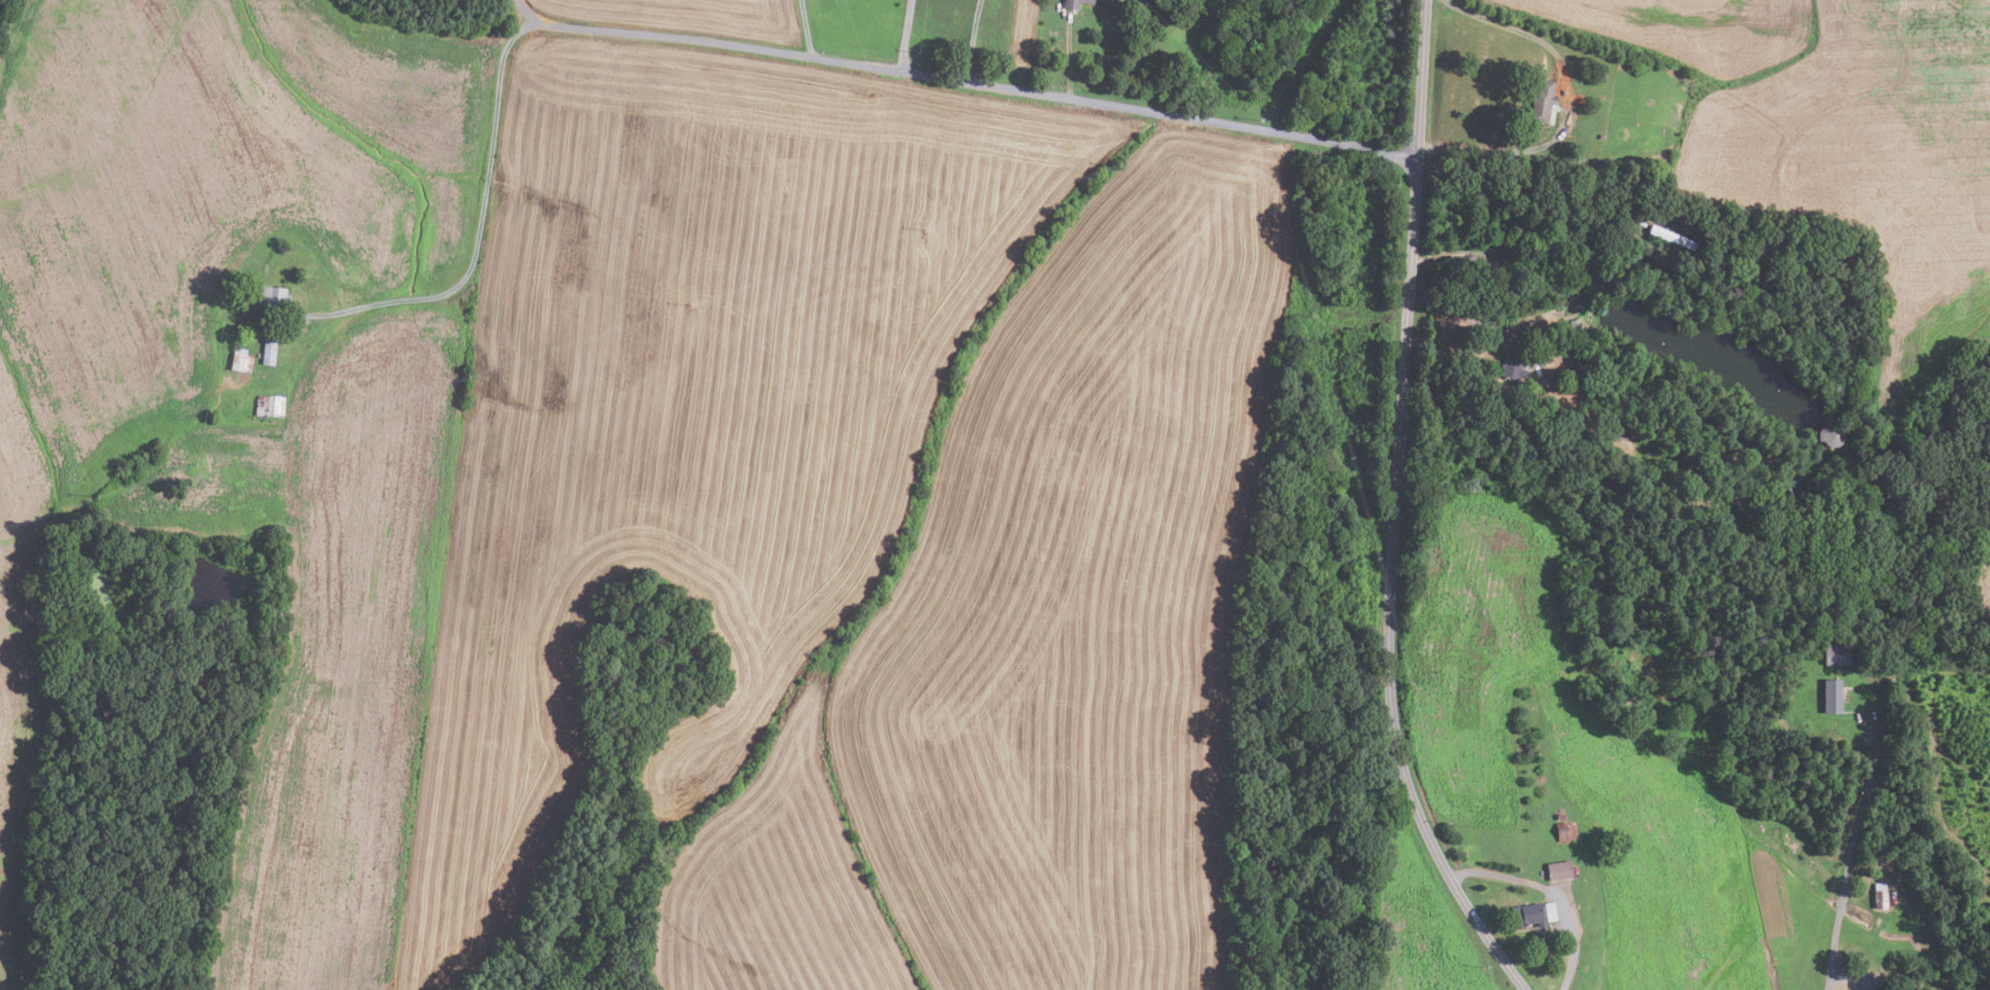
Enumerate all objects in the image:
building: (1074, 3)
road: (1436, 7)
road: (530, 13)
crop: (692, 16)
road: (808, 27)
road: (905, 34)
crop: (1021, 39)
road: (971, 40)
road: (1069, 55)
road: (982, 83)
building: (1542, 101)
road: (1567, 101)
crop: (1842, 142)
road: (480, 209)
building: (1671, 236)
crop: (187, 247)
building: (271, 296)
road: (1465, 324)
building: (1576, 325)
building: (268, 352)
building: (239, 360)
building: (1514, 365)
building: (269, 405)
building: (1543, 415)
building: (1826, 435)
crop: (592, 469)
road: (1393, 511)
crop: (1981, 576)
crop: (1036, 641)
building: (1837, 654)
building: (1832, 696)
crop: (1571, 753)
building: (1560, 817)
building: (1570, 830)
building: (1561, 832)
road: (1852, 854)
building: (1559, 871)
road: (1550, 892)
building: (1880, 896)
building: (1532, 915)
crop: (1425, 928)

